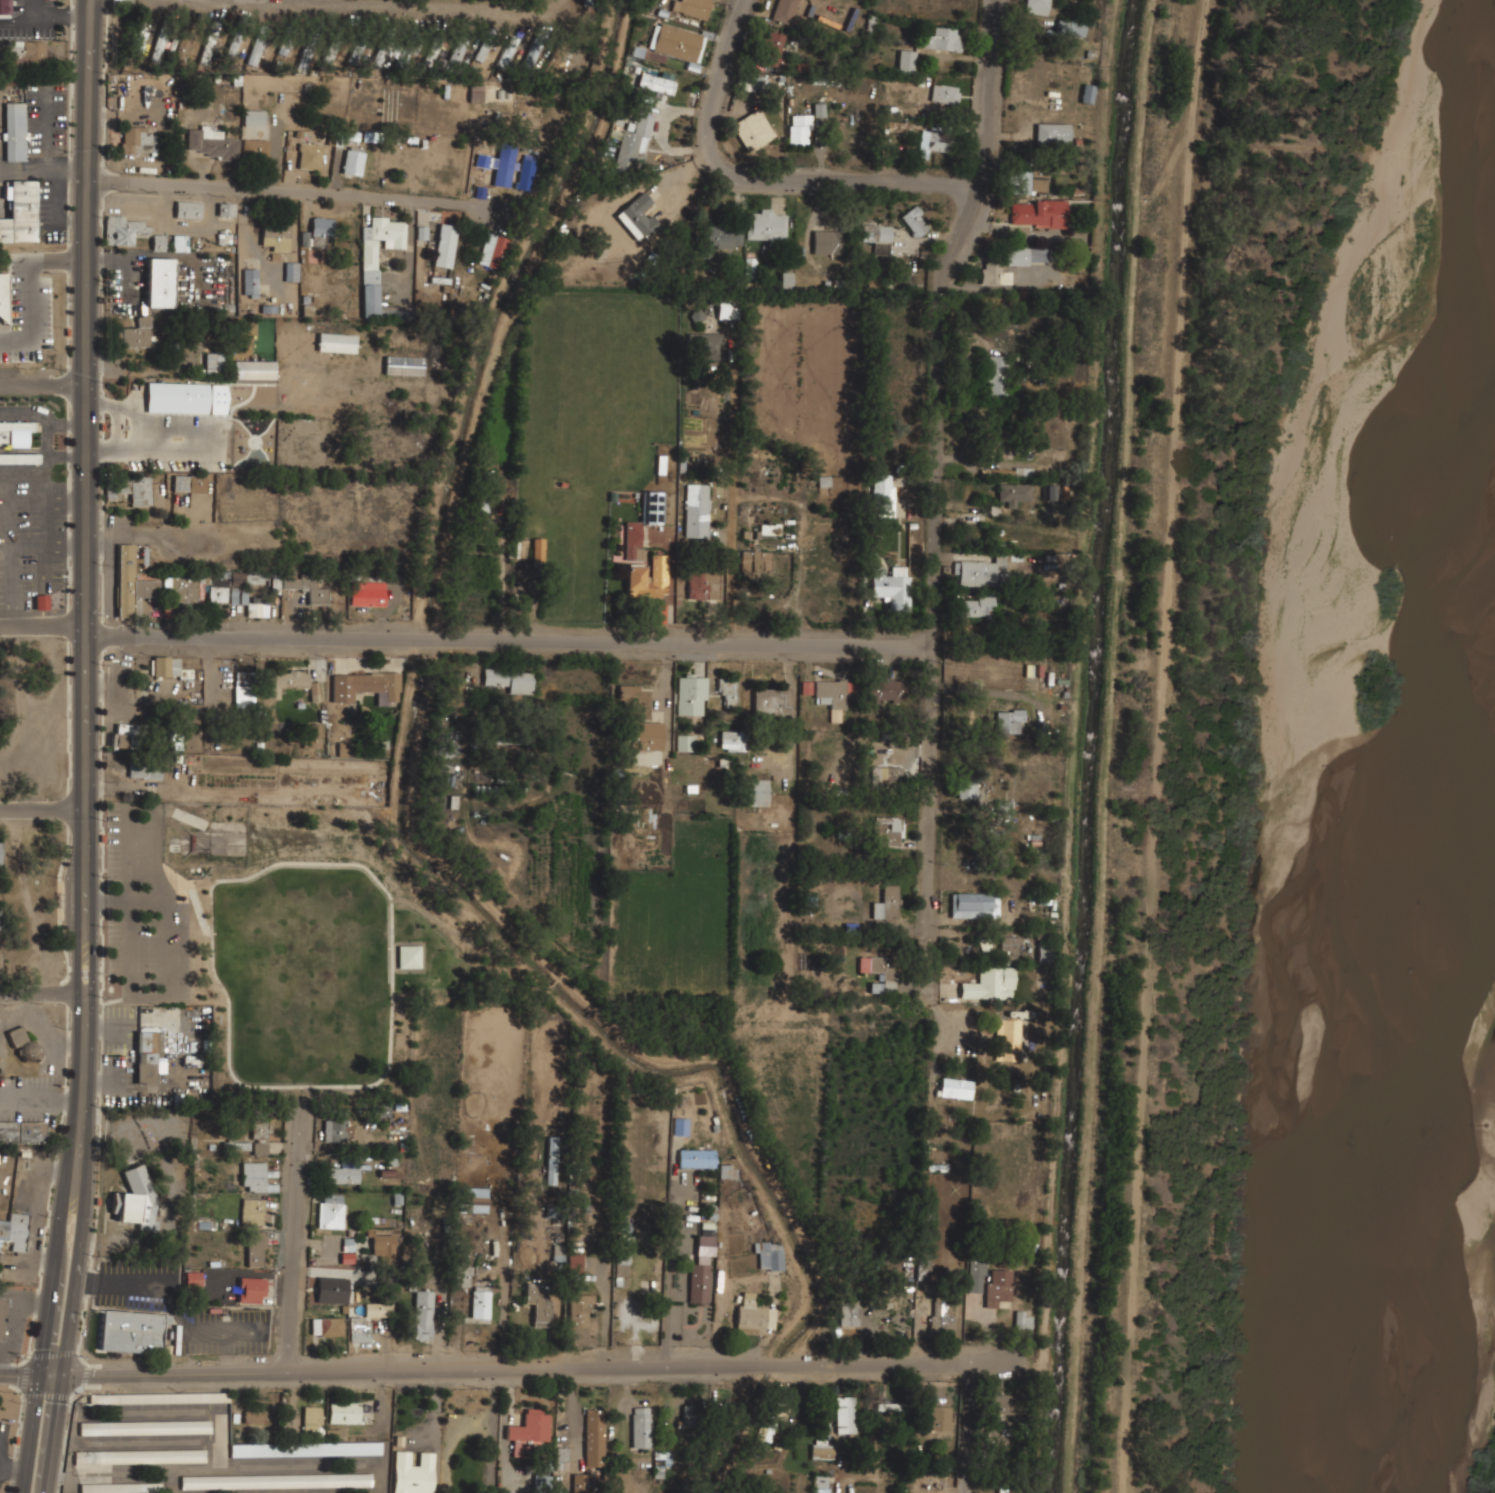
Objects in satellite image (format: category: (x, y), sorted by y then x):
building: (587, 2)
road: (399, 6)
building: (1037, 6)
building: (4, 7)
building: (692, 7)
building: (784, 11)
building: (1070, 28)
building: (137, 36)
building: (943, 39)
building: (678, 43)
building: (284, 44)
building: (257, 46)
building: (361, 46)
building: (487, 46)
building: (159, 47)
building: (182, 48)
building: (208, 49)
building: (233, 49)
building: (386, 49)
building: (434, 49)
building: (773, 49)
building: (458, 50)
building: (508, 50)
building: (331, 51)
building: (27, 54)
building: (306, 54)
building: (648, 54)
building: (530, 56)
building: (907, 62)
road: (718, 77)
building: (657, 82)
building: (754, 84)
building: (1087, 93)
building: (474, 94)
building: (945, 94)
building: (254, 118)
building: (799, 129)
building: (754, 130)
building: (14, 131)
building: (1052, 133)
building: (138, 141)
building: (933, 142)
building: (210, 143)
building: (633, 145)
building: (255, 148)
building: (309, 156)
building: (353, 162)
building: (503, 169)
building: (526, 174)
building: (1028, 181)
road: (841, 182)
road: (298, 191)
building: (188, 209)
building: (226, 209)
building: (20, 213)
building: (1039, 213)
building: (638, 217)
building: (915, 221)
building: (766, 225)
building: (321, 226)
building: (131, 232)
building: (877, 236)
building: (275, 238)
building: (719, 238)
building: (828, 242)
building: (180, 243)
building: (445, 245)
building: (493, 251)
building: (1029, 256)
building: (377, 258)
building: (291, 271)
building: (994, 273)
building: (785, 280)
building: (160, 283)
building: (250, 283)
building: (3, 298)
building: (726, 308)
building: (135, 334)
building: (336, 342)
building: (705, 346)
building: (215, 363)
building: (403, 365)
building: (254, 370)
building: (996, 377)
road: (45, 385)
building: (178, 397)
building: (15, 433)
building: (1001, 445)
building: (19, 459)
building: (189, 485)
road: (940, 486)
building: (131, 489)
building: (1049, 492)
building: (1013, 493)
building: (882, 496)
building: (654, 508)
building: (697, 510)
building: (769, 529)
building: (632, 538)
building: (538, 550)
building: (639, 554)
building: (756, 560)
building: (981, 572)
building: (254, 578)
building: (647, 578)
building: (130, 582)
building: (703, 585)
building: (892, 586)
building: (183, 588)
building: (306, 588)
building: (218, 591)
building: (367, 594)
building: (238, 596)
building: (41, 602)
building: (978, 606)
building: (253, 609)
road: (527, 640)
building: (165, 666)
building: (494, 677)
building: (284, 681)
building: (520, 683)
building: (364, 685)
road: (78, 687)
road: (91, 688)
building: (885, 690)
building: (728, 691)
building: (454, 692)
building: (692, 694)
building: (244, 697)
building: (831, 698)
building: (629, 699)
building: (771, 702)
building: (1011, 720)
road: (1213, 722)
building: (126, 736)
building: (647, 736)
building: (732, 741)
building: (685, 743)
building: (451, 749)
building: (145, 768)
building: (894, 776)
building: (969, 787)
building: (757, 793)
building: (1005, 807)
building: (646, 808)
road: (46, 809)
building: (888, 831)
river: (1411, 855)
building: (0, 856)
building: (888, 903)
building: (975, 905)
parking lot: (144, 910)
road: (198, 911)
building: (0, 919)
road: (437, 922)
building: (1011, 949)
building: (1045, 952)
building: (409, 956)
park: (317, 972)
building: (880, 972)
building: (989, 983)
road: (46, 993)
building: (1008, 1040)
building: (22, 1042)
building: (147, 1054)
road: (385, 1070)
building: (957, 1088)
road: (37, 1097)
building: (381, 1110)
building: (680, 1127)
building: (260, 1129)
building: (335, 1130)
building: (23, 1132)
building: (237, 1146)
building: (260, 1148)
building: (697, 1158)
building: (551, 1161)
building: (727, 1172)
building: (343, 1173)
building: (257, 1183)
building: (135, 1199)
building: (476, 1199)
building: (330, 1211)
building: (254, 1212)
building: (13, 1234)
building: (383, 1242)
road: (295, 1246)
building: (256, 1249)
building: (558, 1254)
building: (770, 1256)
building: (575, 1263)
building: (622, 1269)
building: (702, 1271)
building: (976, 1274)
building: (193, 1279)
building: (999, 1286)
building: (251, 1290)
building: (328, 1290)
building: (481, 1304)
building: (539, 1304)
building: (582, 1311)
building: (750, 1314)
building: (2, 1315)
building: (423, 1315)
building: (849, 1315)
building: (943, 1315)
building: (367, 1321)
building: (1023, 1322)
building: (326, 1327)
building: (132, 1331)
road: (541, 1368)
road: (20, 1373)
traffic signals: (40, 1373)
road: (52, 1374)
traffic signals: (64, 1375)
building: (160, 1398)
building: (1002, 1404)
building: (894, 1407)
building: (343, 1412)
building: (846, 1415)
building: (692, 1416)
building: (254, 1417)
building: (941, 1417)
building: (720, 1419)
building: (312, 1422)
building: (768, 1424)
building: (145, 1427)
building: (641, 1427)
road: (491, 1431)
road: (967, 1431)
road: (31, 1432)
building: (529, 1433)
road: (55, 1434)
building: (594, 1438)
building: (306, 1449)
building: (823, 1450)
building: (139, 1457)
building: (664, 1459)
building: (412, 1472)
building: (277, 1481)
building: (582, 1483)
building: (820, 1484)
building: (120, 1488)

